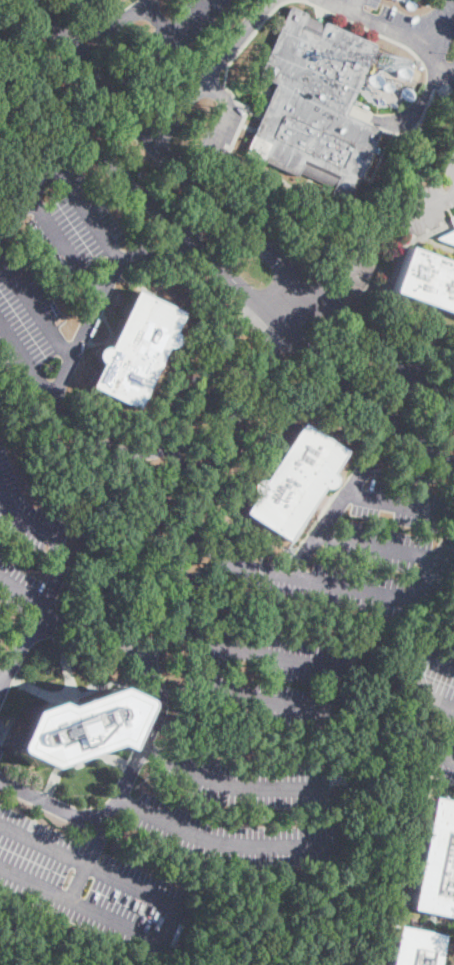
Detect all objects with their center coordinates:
road: (355, 5)
road: (129, 13)
parking lot: (185, 21)
road: (175, 24)
road: (386, 28)
road: (87, 31)
road: (432, 31)
parking lot: (408, 33)
road: (100, 50)
building: (385, 61)
road: (446, 67)
road: (210, 72)
road: (217, 88)
building: (314, 104)
road: (418, 105)
road: (218, 123)
parking lot: (221, 129)
road: (65, 172)
parking lot: (430, 195)
road: (426, 207)
road: (231, 219)
road: (141, 220)
building: (447, 237)
road: (65, 246)
road: (170, 249)
road: (355, 257)
road: (216, 264)
parking lot: (59, 276)
building: (427, 279)
road: (34, 302)
road: (293, 306)
road: (87, 319)
building: (134, 349)
road: (26, 363)
road: (375, 441)
road: (108, 443)
building: (446, 463)
road: (408, 471)
building: (292, 481)
road: (399, 503)
road: (22, 519)
road: (326, 519)
parking lot: (25, 540)
road: (208, 542)
road: (377, 546)
parking lot: (371, 548)
road: (203, 566)
road: (362, 589)
road: (23, 591)
building: (453, 606)
road: (45, 622)
road: (190, 636)
road: (124, 646)
road: (347, 669)
road: (418, 672)
parking lot: (279, 673)
parking lot: (431, 682)
road: (1, 683)
building: (67, 727)
road: (444, 753)
parking lot: (442, 754)
parking lot: (247, 777)
road: (124, 784)
road: (235, 785)
parking lot: (236, 838)
road: (222, 842)
road: (90, 856)
building: (436, 862)
parking lot: (92, 881)
road: (171, 916)
building: (415, 947)

